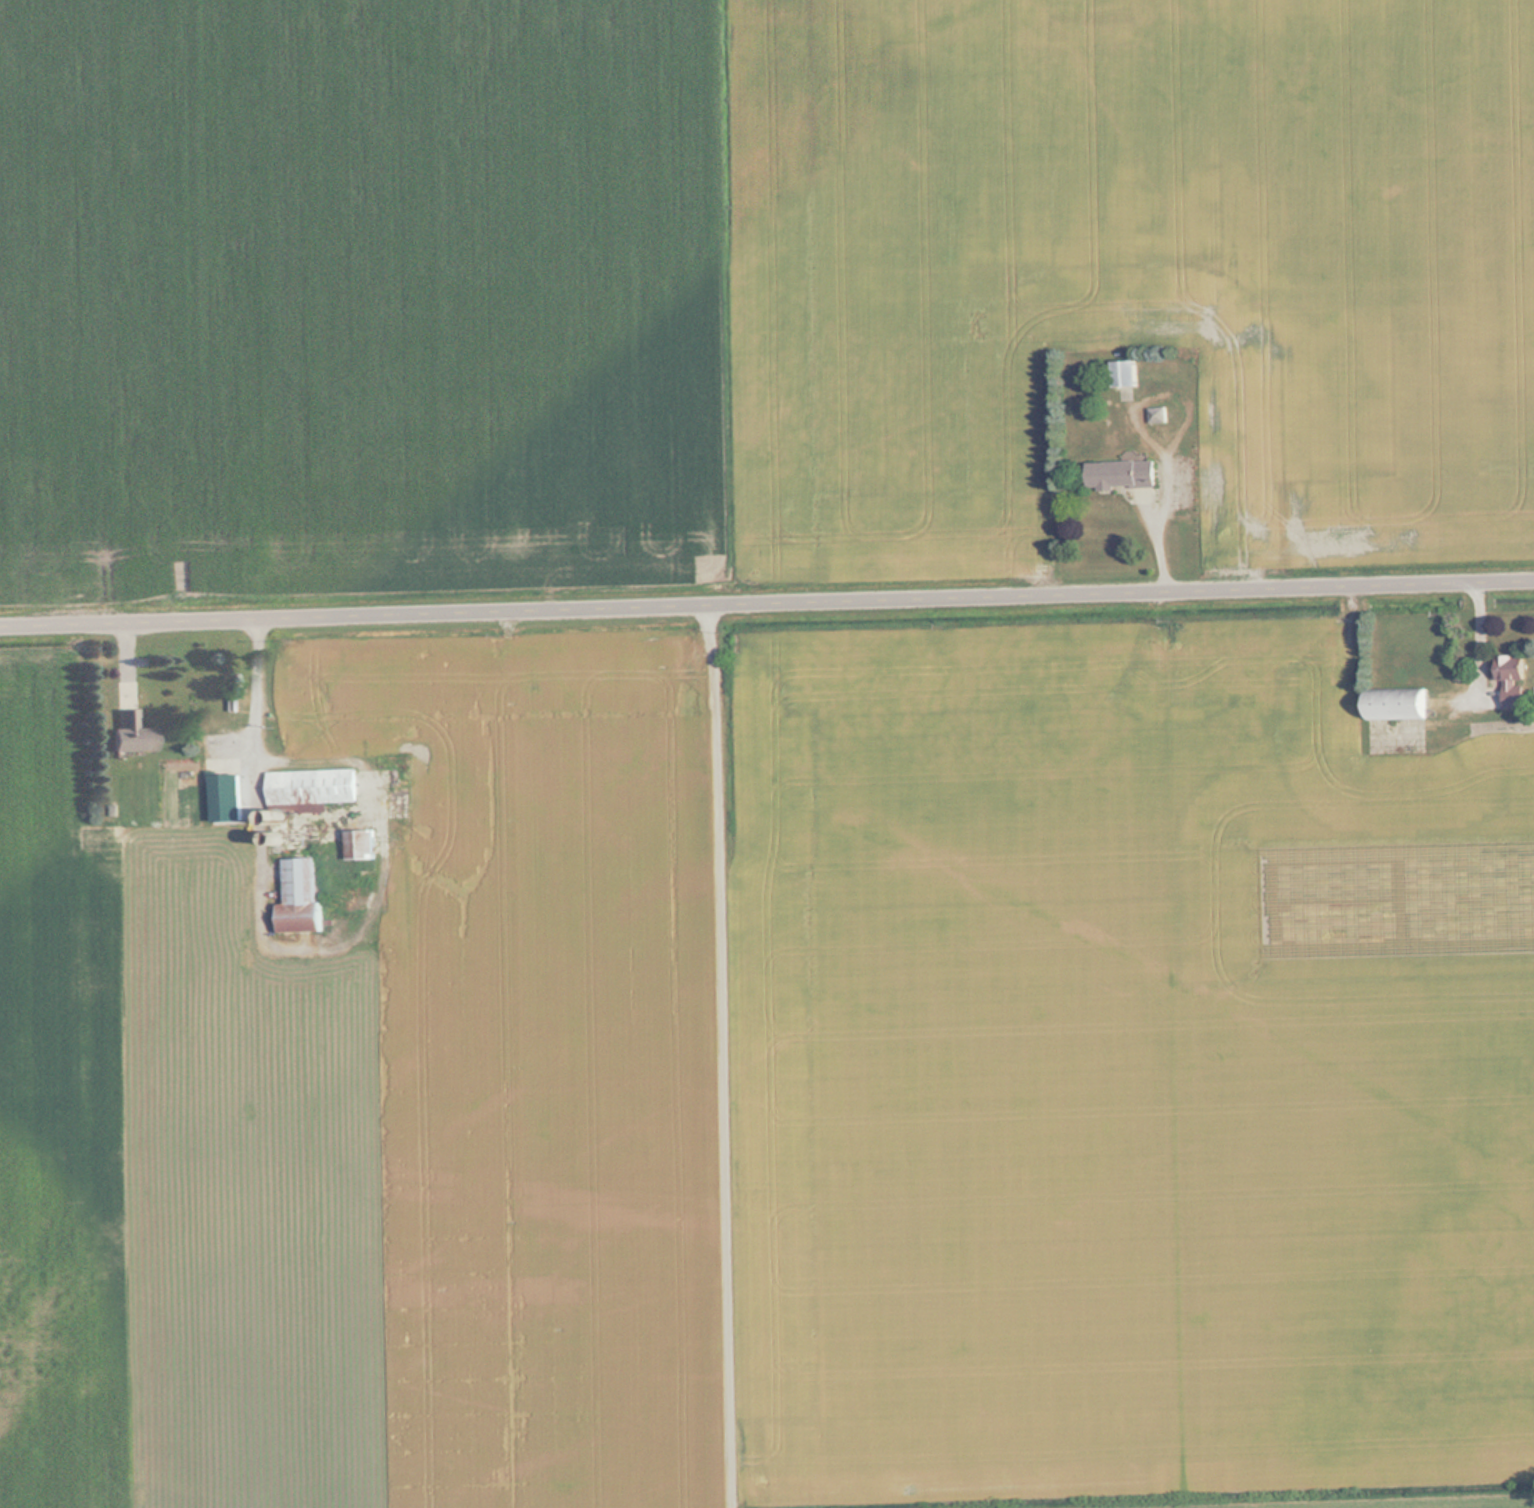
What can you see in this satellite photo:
building: (1126, 372)
building: (1158, 414)
building: (1205, 470)
building: (1122, 473)
road: (766, 602)
building: (1513, 680)
building: (1399, 702)
building: (131, 733)
building: (314, 786)
building: (362, 844)
building: (301, 896)
road: (707, 1056)

